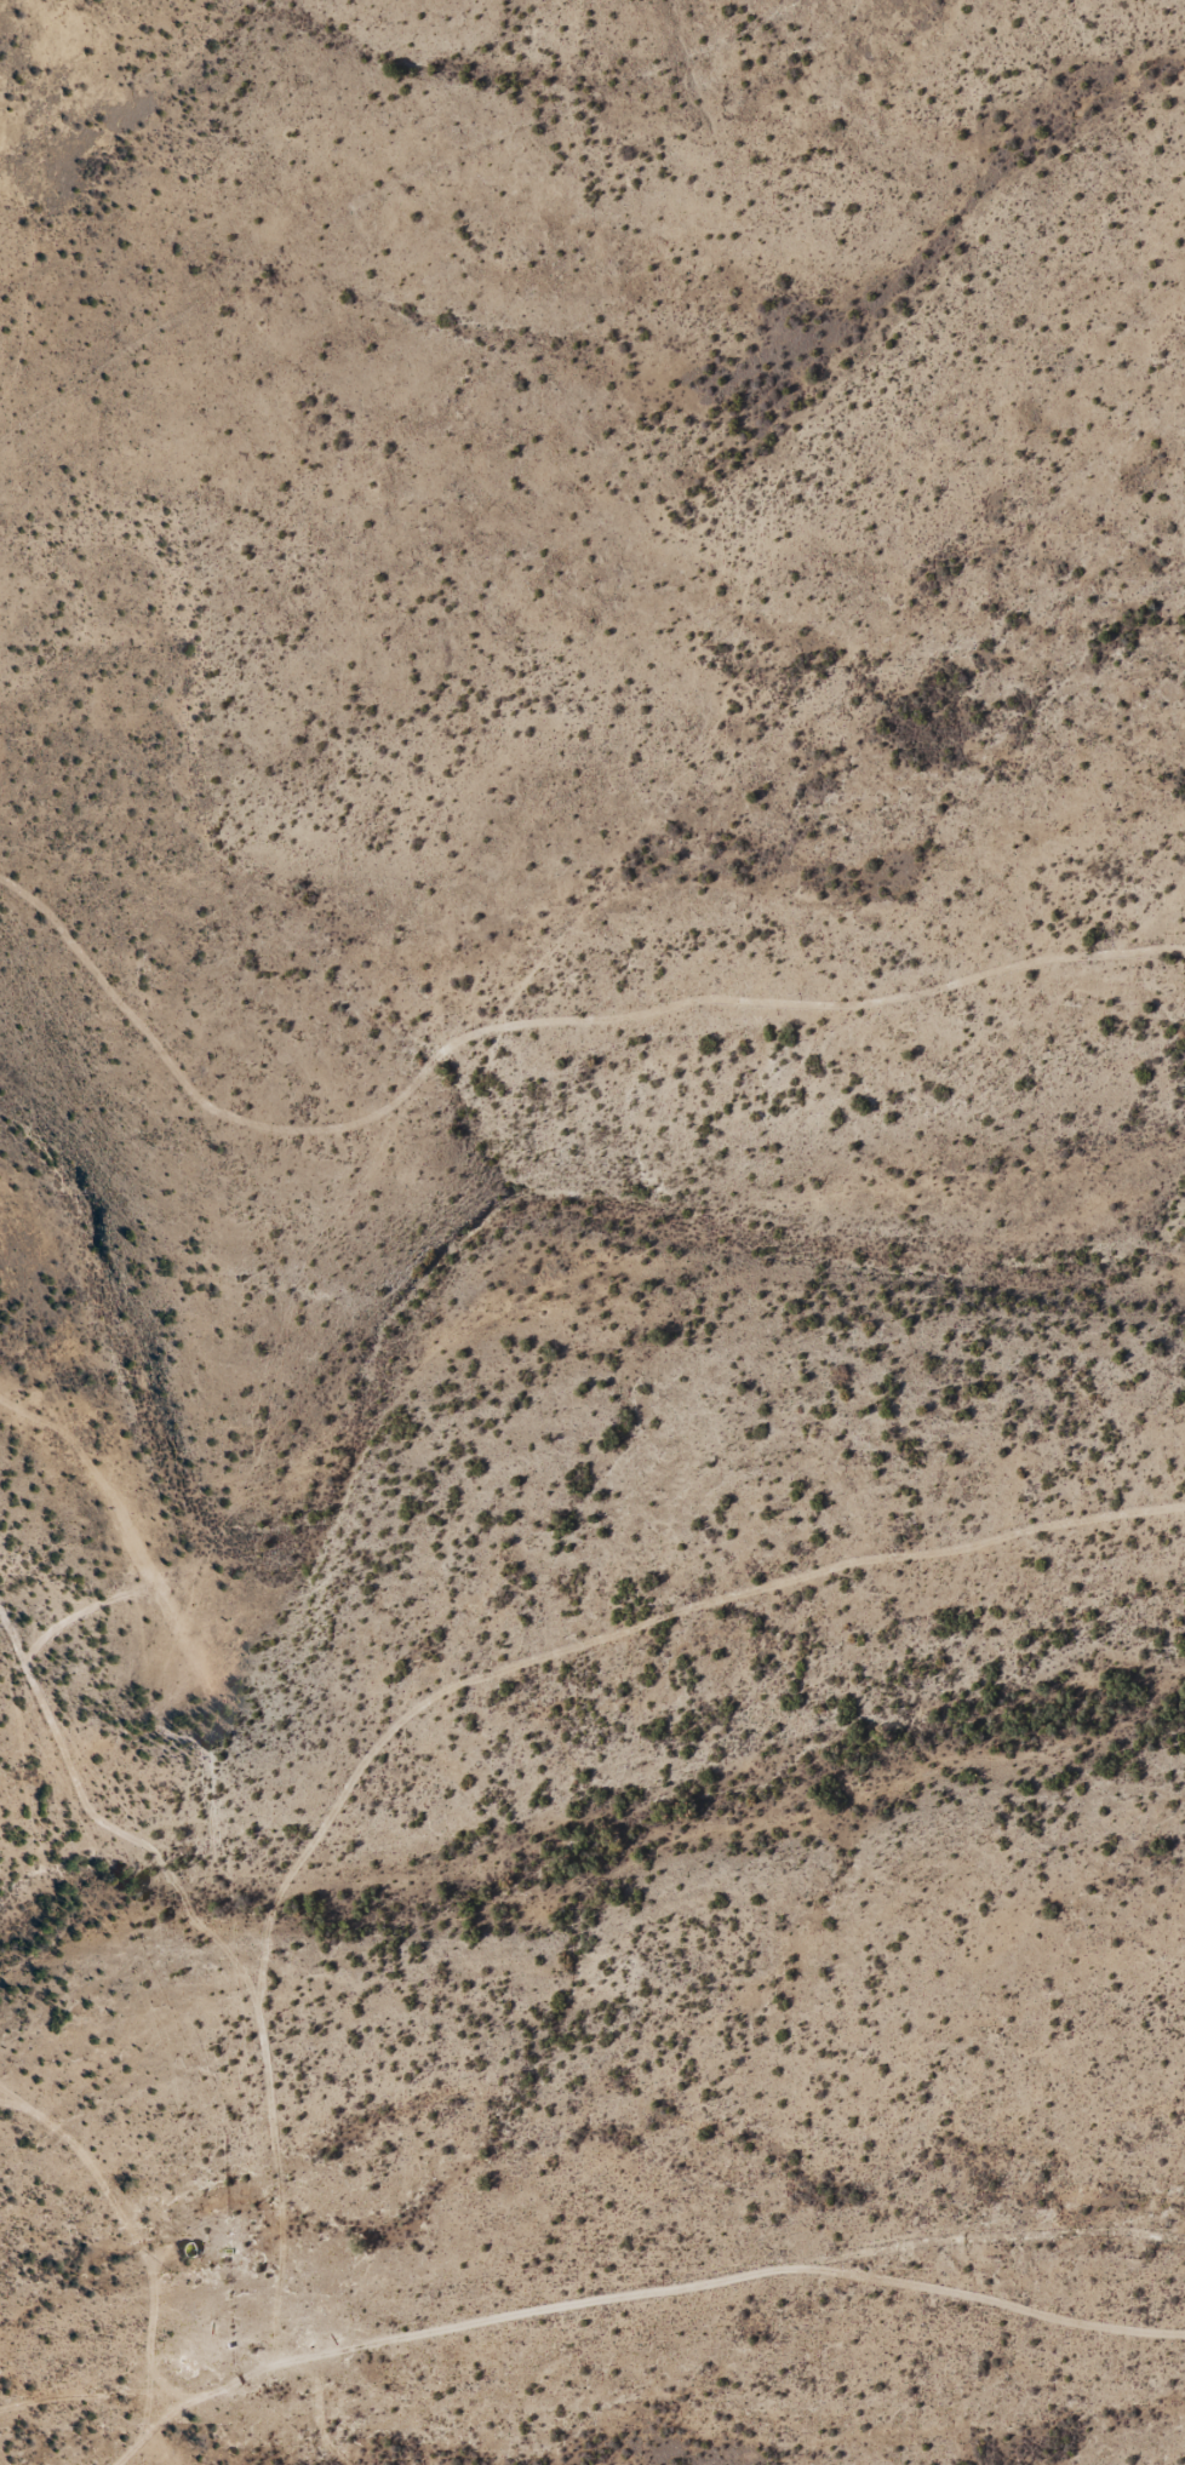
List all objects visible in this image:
road: (592, 2320)

